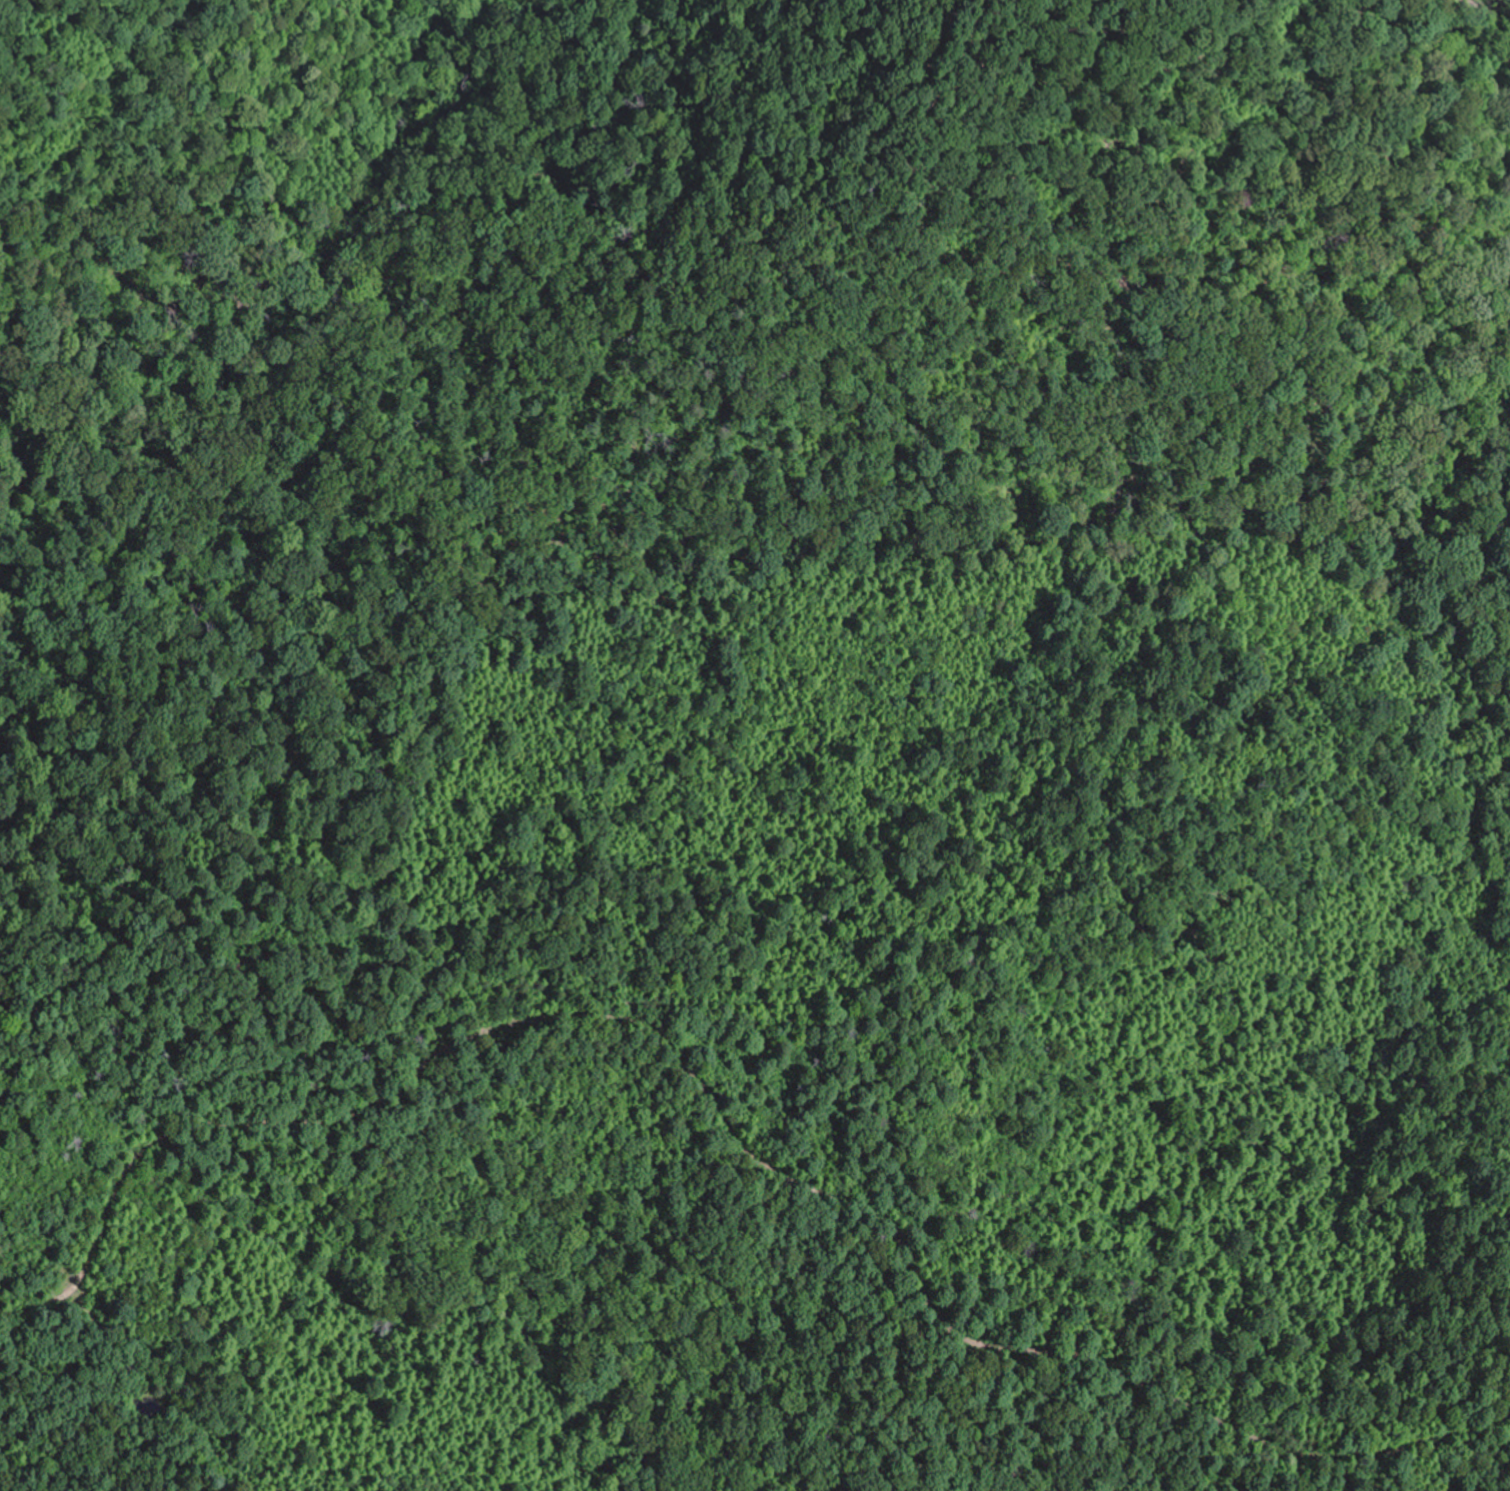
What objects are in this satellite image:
road: (556, 1040)
road: (726, 1123)
road: (734, 1142)
road: (101, 1348)
road: (104, 1407)

